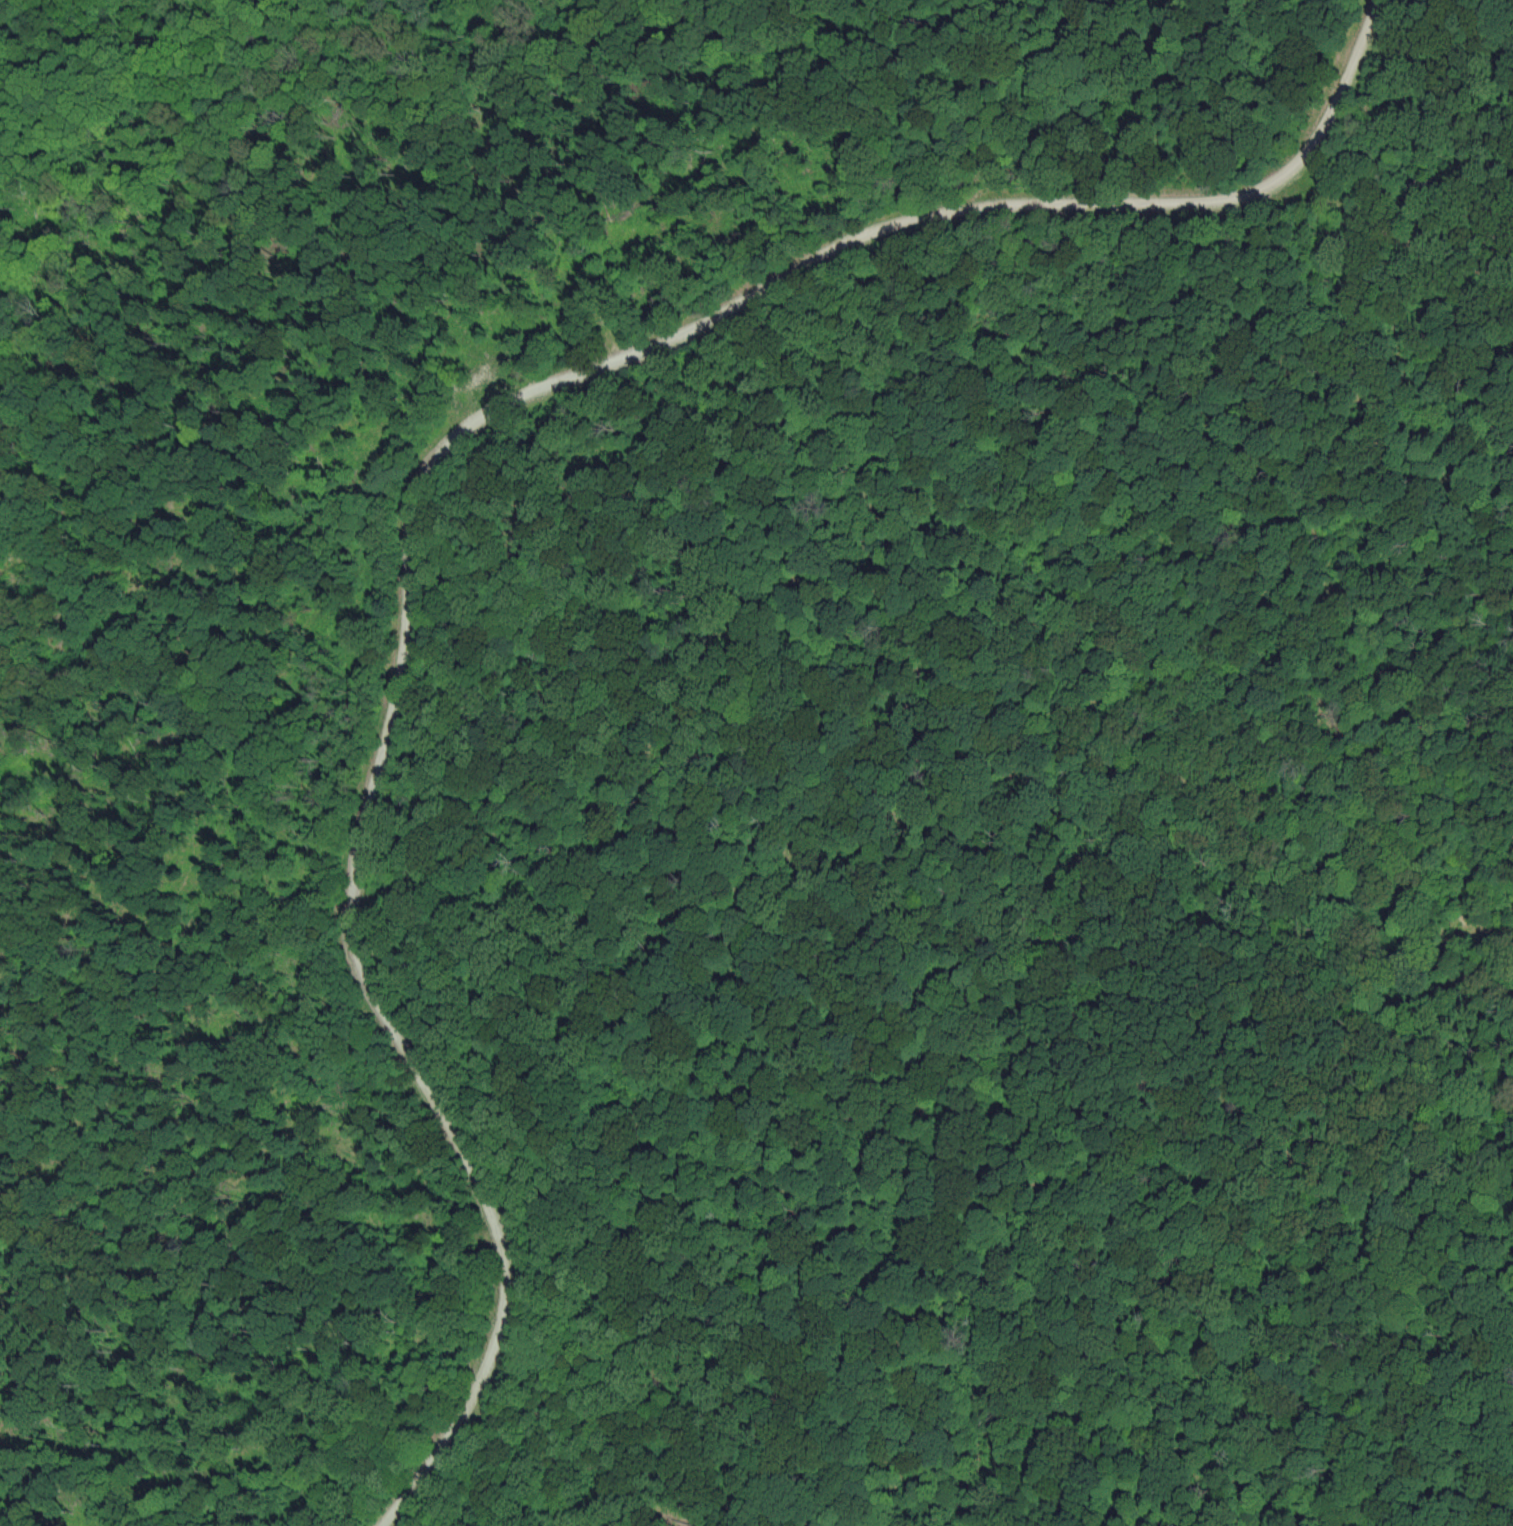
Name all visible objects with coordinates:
road: (426, 473)

